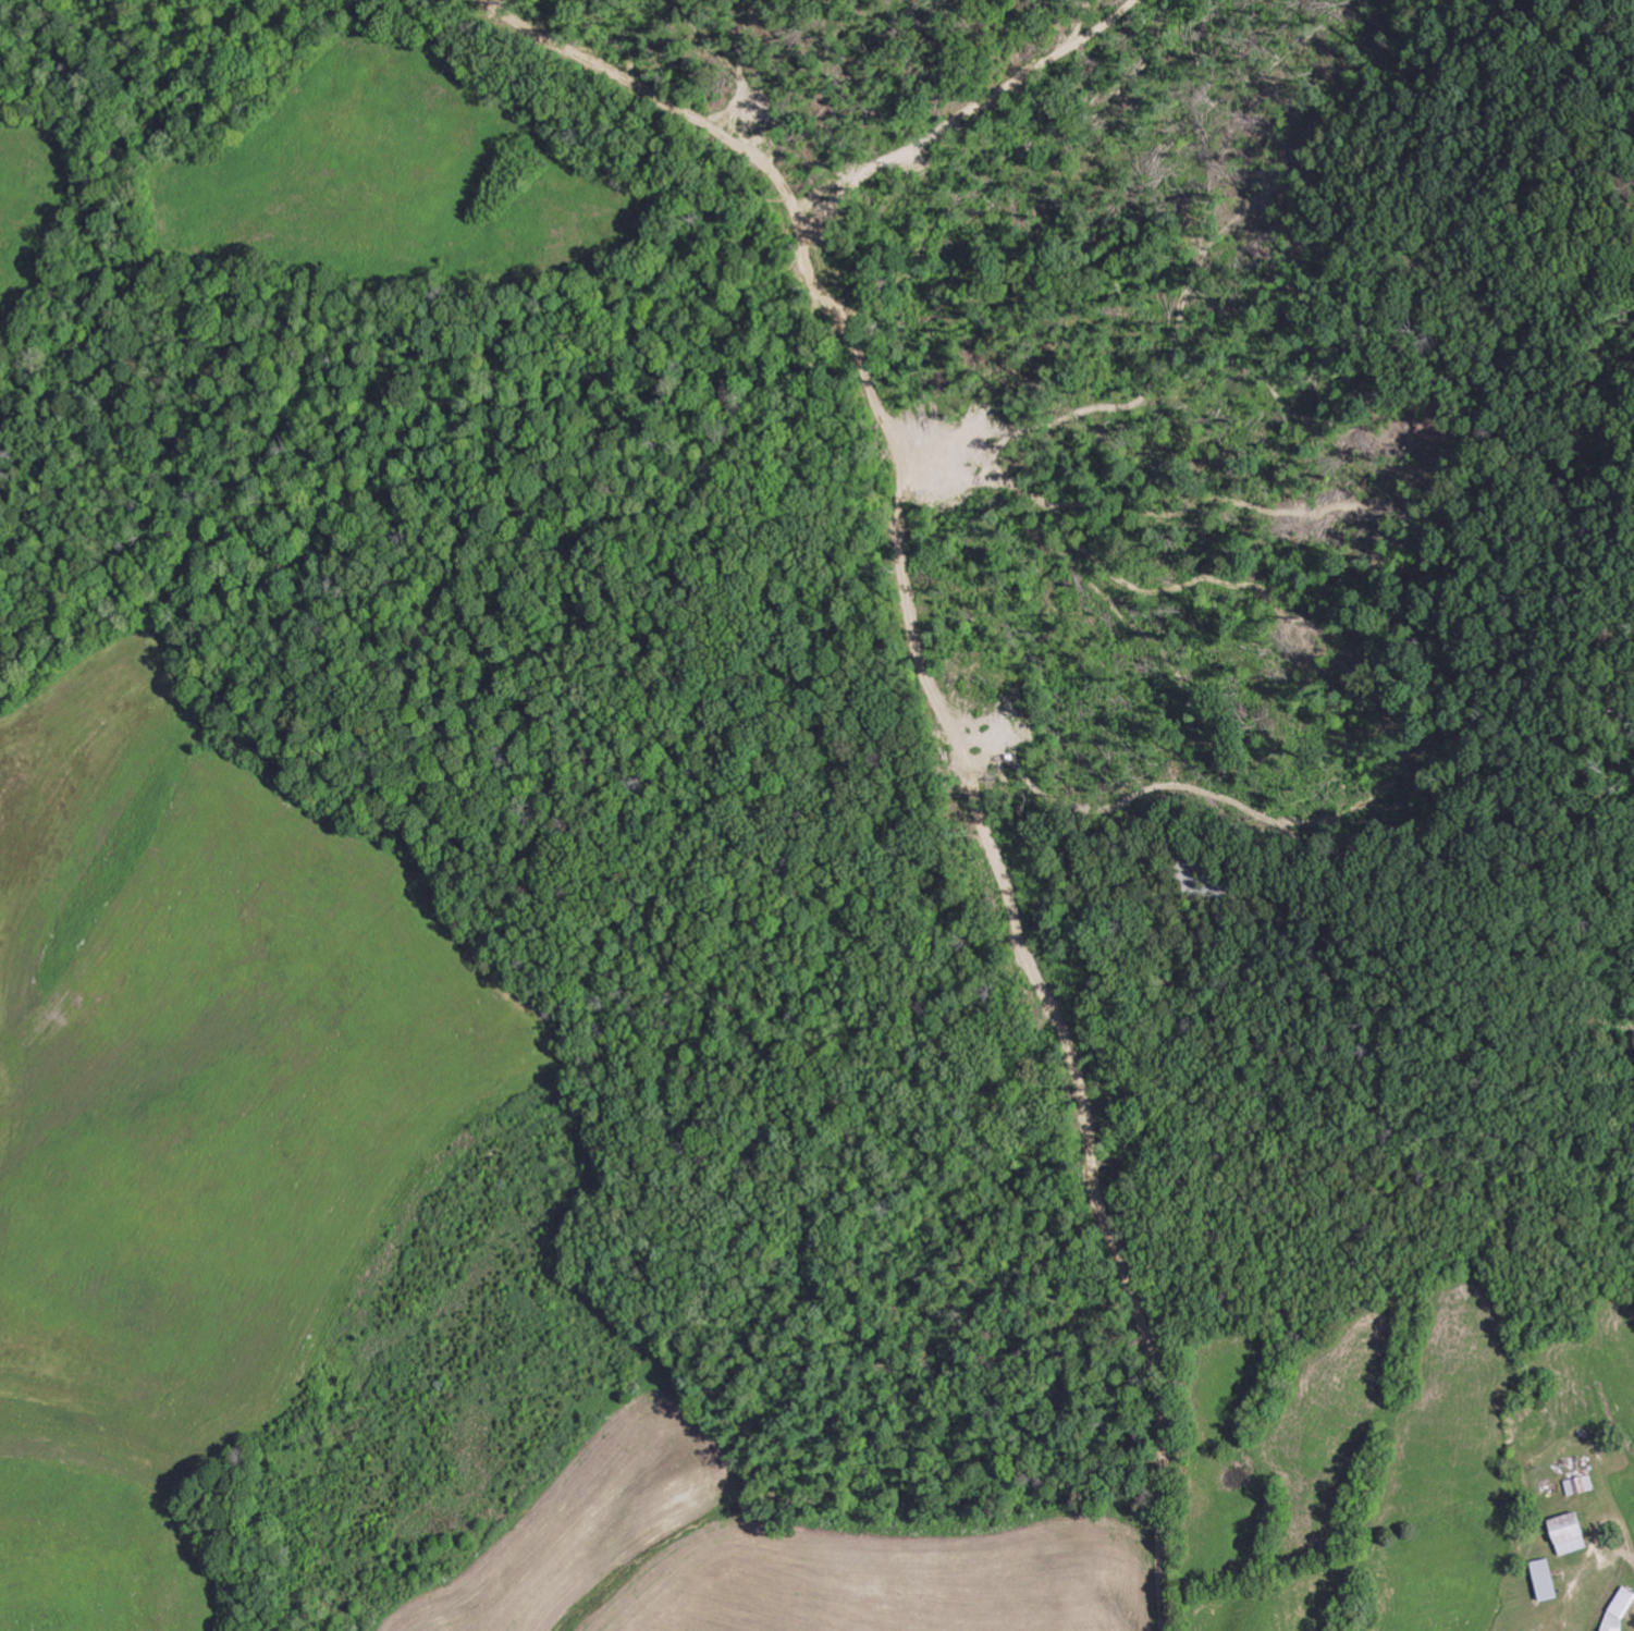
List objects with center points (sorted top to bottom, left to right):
building: (1576, 1484)
building: (1563, 1532)
building: (1614, 1609)

